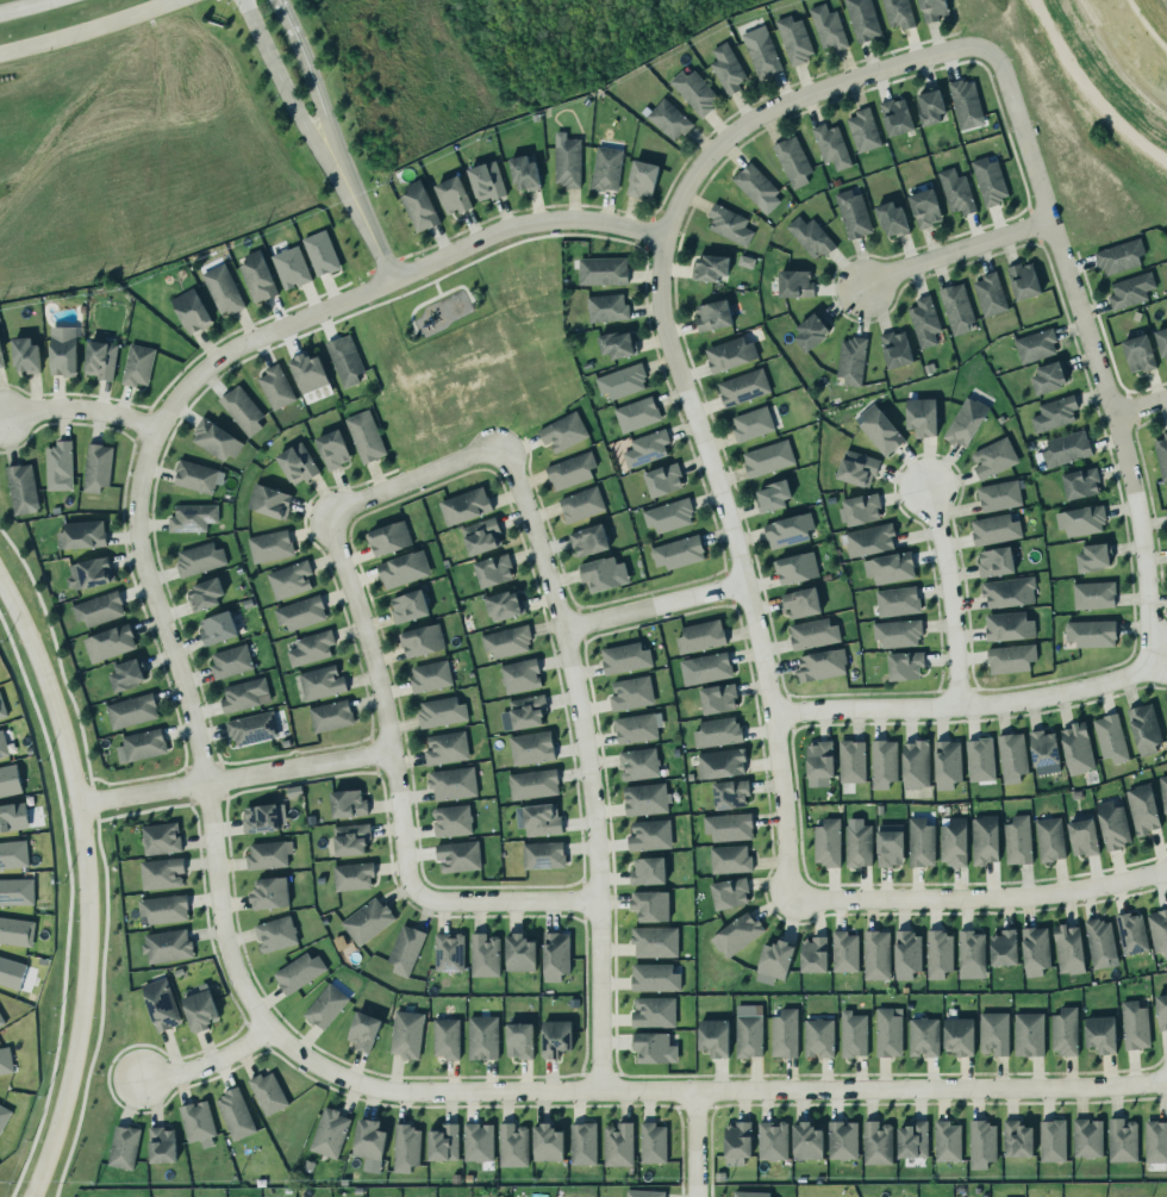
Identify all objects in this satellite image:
road: (35, 10)
building: (931, 10)
building: (897, 13)
building: (861, 19)
building: (828, 27)
road: (86, 31)
building: (794, 39)
building: (761, 51)
building: (726, 68)
road: (308, 74)
road: (279, 80)
building: (692, 91)
road: (804, 93)
building: (965, 102)
building: (930, 107)
building: (895, 117)
building: (668, 119)
building: (862, 130)
building: (831, 146)
building: (566, 162)
building: (793, 162)
building: (606, 168)
building: (522, 173)
building: (641, 179)
road: (673, 179)
building: (485, 180)
building: (988, 180)
building: (755, 187)
building: (956, 191)
building: (450, 194)
building: (417, 206)
building: (924, 208)
building: (850, 213)
road: (361, 216)
road: (651, 218)
building: (890, 218)
building: (729, 224)
road: (648, 235)
building: (809, 235)
road: (604, 238)
road: (644, 249)
road: (495, 251)
building: (320, 253)
road: (959, 253)
building: (1119, 256)
building: (291, 267)
building: (711, 267)
building: (601, 270)
building: (255, 275)
road: (391, 279)
building: (1024, 281)
building: (793, 283)
road: (458, 287)
road: (436, 288)
building: (221, 291)
building: (1130, 291)
building: (988, 293)
road: (382, 303)
park: (437, 305)
building: (607, 307)
building: (954, 307)
road: (414, 308)
building: (188, 312)
building: (711, 316)
building: (924, 322)
building: (809, 331)
building: (1162, 343)
building: (616, 344)
building: (1034, 344)
building: (895, 349)
building: (62, 350)
building: (1138, 353)
building: (24, 354)
building: (730, 354)
road: (1102, 354)
building: (98, 359)
building: (345, 360)
building: (850, 360)
building: (0, 362)
building: (138, 364)
building: (308, 373)
building: (1048, 378)
building: (622, 381)
building: (274, 386)
building: (743, 387)
road: (1143, 405)
road: (79, 407)
building: (243, 409)
building: (636, 413)
building: (1054, 413)
building: (921, 416)
building: (963, 420)
building: (751, 424)
building: (879, 429)
building: (563, 431)
building: (362, 436)
building: (213, 438)
building: (645, 448)
building: (1065, 448)
building: (332, 449)
building: (1161, 455)
building: (992, 456)
building: (767, 457)
building: (297, 463)
building: (57, 465)
building: (95, 468)
building: (855, 468)
building: (570, 470)
building: (195, 475)
road: (413, 479)
building: (663, 480)
building: (1079, 482)
building: (20, 488)
building: (999, 495)
building: (772, 497)
building: (269, 500)
building: (579, 504)
building: (462, 505)
building: (857, 509)
building: (668, 515)
building: (189, 517)
building: (1079, 519)
building: (786, 529)
building: (993, 529)
building: (81, 535)
building: (480, 535)
building: (388, 537)
building: (587, 540)
building: (869, 540)
building: (269, 545)
building: (678, 553)
building: (1091, 557)
building: (199, 559)
building: (994, 561)
road: (738, 563)
building: (887, 566)
building: (793, 567)
building: (402, 569)
building: (493, 571)
building: (87, 573)
building: (599, 574)
building: (289, 579)
building: (1009, 592)
building: (202, 594)
building: (1091, 594)
road: (950, 596)
building: (897, 601)
building: (801, 603)
building: (504, 605)
road: (654, 605)
building: (407, 606)
building: (98, 609)
building: (298, 612)
building: (1006, 625)
building: (216, 628)
building: (1088, 631)
building: (812, 632)
building: (897, 632)
building: (699, 636)
building: (419, 640)
building: (506, 641)
building: (107, 643)
building: (311, 648)
building: (623, 657)
building: (1010, 657)
building: (229, 660)
building: (822, 665)
building: (905, 666)
building: (705, 668)
building: (123, 674)
building: (429, 675)
building: (520, 675)
building: (319, 682)
building: (630, 692)
building: (243, 694)
building: (718, 698)
road: (962, 705)
building: (2, 709)
building: (130, 711)
building: (442, 711)
building: (525, 711)
building: (329, 716)
building: (1166, 716)
building: (249, 728)
building: (637, 728)
building: (1142, 728)
building: (716, 731)
building: (1109, 737)
building: (2, 744)
building: (139, 746)
building: (444, 747)
building: (531, 747)
building: (1043, 748)
building: (1074, 748)
building: (1010, 756)
building: (978, 759)
building: (818, 760)
road: (586, 761)
building: (851, 761)
building: (719, 762)
building: (881, 762)
building: (638, 763)
building: (913, 763)
building: (946, 763)
road: (233, 777)
building: (8, 780)
building: (450, 783)
building: (532, 783)
building: (1162, 791)
road: (397, 793)
building: (730, 793)
building: (644, 798)
building: (348, 803)
building: (1141, 808)
building: (260, 815)
building: (13, 817)
building: (538, 818)
building: (451, 821)
building: (726, 825)
building: (1111, 825)
building: (349, 835)
building: (649, 835)
building: (158, 836)
building: (1081, 838)
building: (982, 840)
building: (1016, 840)
building: (1048, 840)
building: (918, 841)
building: (826, 842)
building: (951, 842)
building: (857, 844)
building: (888, 847)
building: (13, 854)
building: (268, 855)
building: (543, 855)
building: (457, 856)
building: (729, 859)
building: (647, 871)
building: (160, 874)
building: (350, 874)
road: (86, 885)
building: (267, 890)
building: (15, 891)
building: (730, 893)
road: (979, 898)
building: (649, 905)
building: (161, 906)
building: (364, 918)
building: (1157, 929)
building: (15, 931)
building: (1131, 933)
building: (275, 934)
building: (737, 934)
building: (654, 941)
building: (338, 942)
building: (1100, 943)
building: (164, 944)
building: (1001, 944)
building: (1032, 944)
building: (402, 947)
building: (968, 948)
building: (842, 949)
building: (906, 950)
building: (936, 950)
building: (448, 952)
building: (811, 952)
building: (1067, 952)
building: (519, 953)
building: (874, 953)
building: (483, 955)
building: (555, 956)
building: (774, 956)
building: (297, 970)
building: (11, 973)
building: (654, 978)
building: (161, 1003)
building: (325, 1005)
building: (199, 1008)
building: (1161, 1009)
building: (653, 1012)
building: (1, 1018)
building: (1132, 1023)
building: (1062, 1029)
building: (363, 1030)
building: (405, 1030)
building: (747, 1030)
building: (886, 1030)
building: (991, 1030)
building: (782, 1031)
building: (853, 1031)
building: (1026, 1031)
building: (956, 1033)
building: (712, 1034)
building: (921, 1034)
building: (1100, 1034)
building: (444, 1035)
building: (481, 1035)
building: (554, 1035)
building: (817, 1035)
building: (518, 1037)
building: (654, 1047)
building: (5, 1060)
road: (207, 1064)
road: (397, 1090)
building: (268, 1092)
building: (235, 1114)
building: (4, 1115)
building: (198, 1123)
building: (329, 1133)
building: (1085, 1135)
building: (1015, 1136)
building: (911, 1137)
building: (946, 1137)
building: (1050, 1137)
building: (1122, 1137)
building: (806, 1139)
building: (841, 1139)
building: (1155, 1139)
building: (367, 1140)
building: (442, 1140)
building: (476, 1140)
building: (735, 1140)
building: (772, 1140)
building: (511, 1141)
building: (581, 1141)
building: (650, 1141)
building: (876, 1141)
building: (979, 1141)
building: (160, 1142)
building: (617, 1142)
road: (695, 1142)
building: (547, 1143)
building: (121, 1145)
building: (404, 1145)
building: (643, 1193)
building: (748, 1193)

